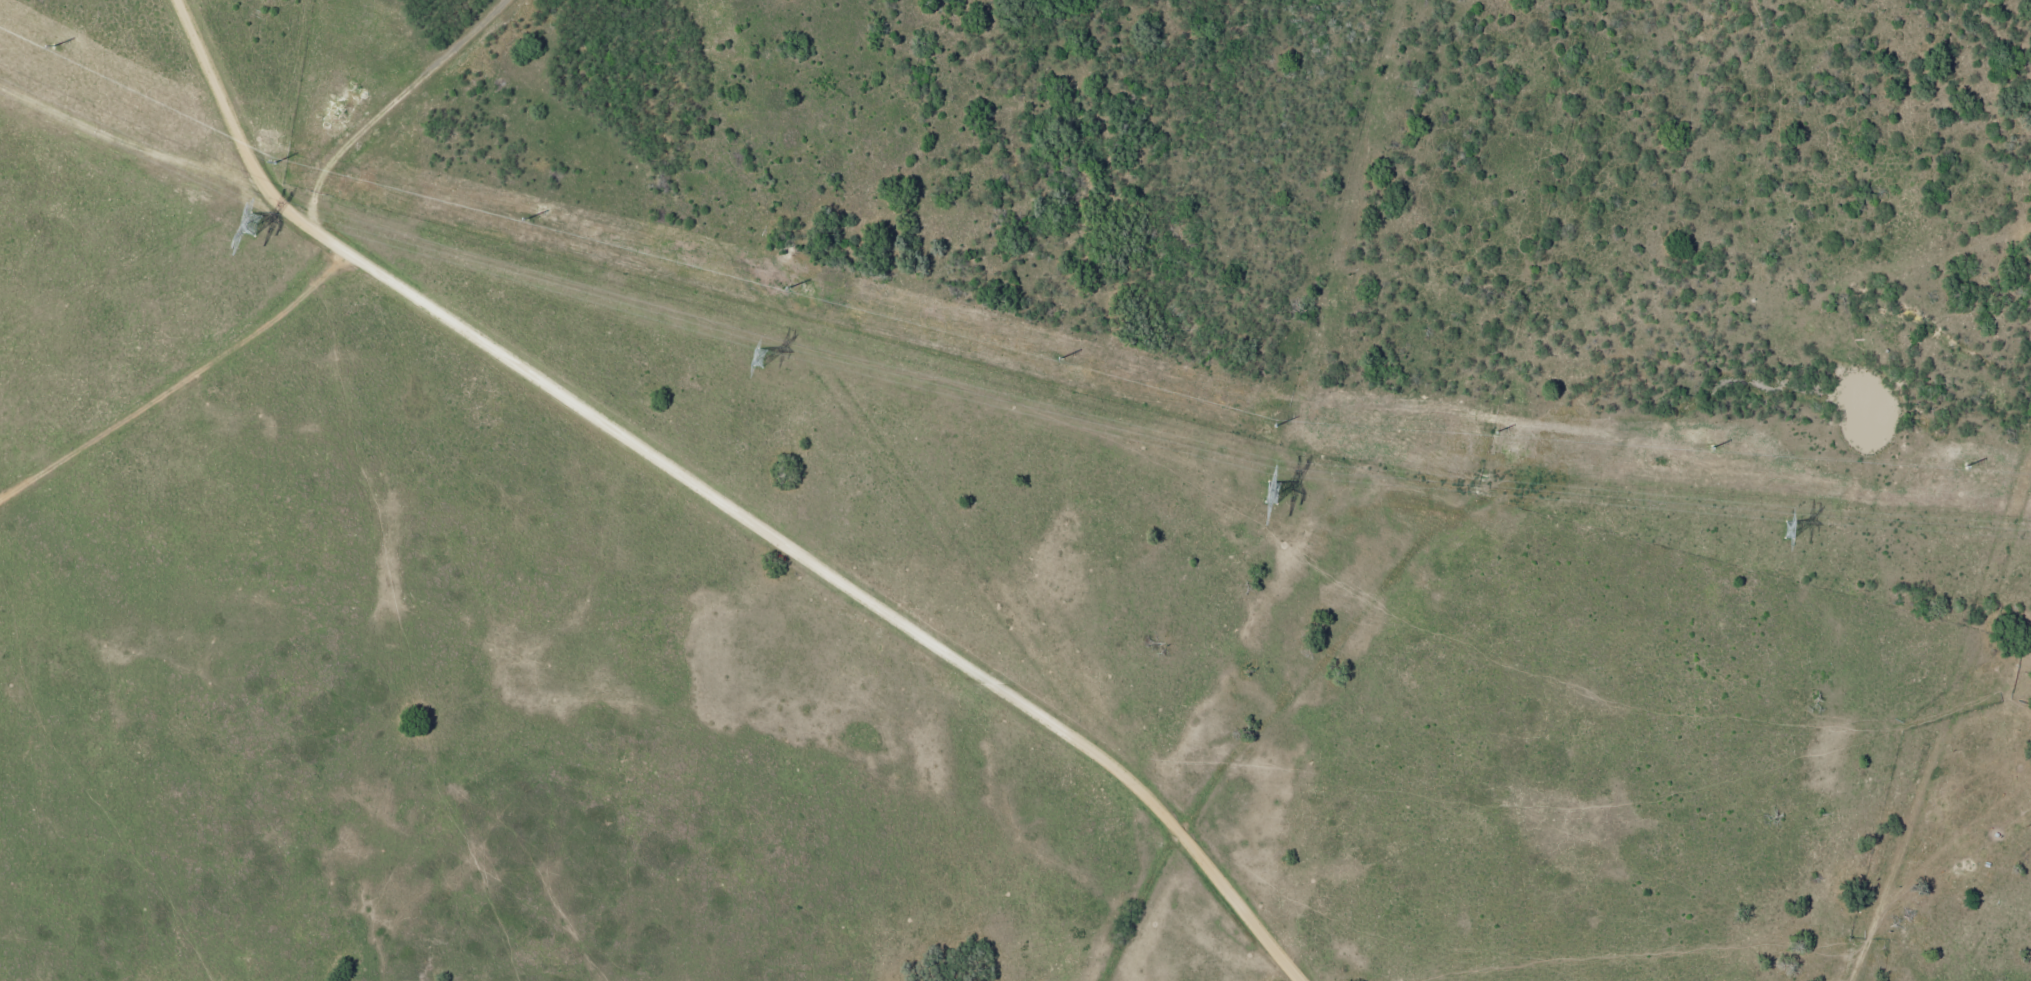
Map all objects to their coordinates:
power tower: (255, 223)
power tower: (762, 356)
power tower: (1274, 492)
road: (729, 499)
power tower: (1790, 529)

